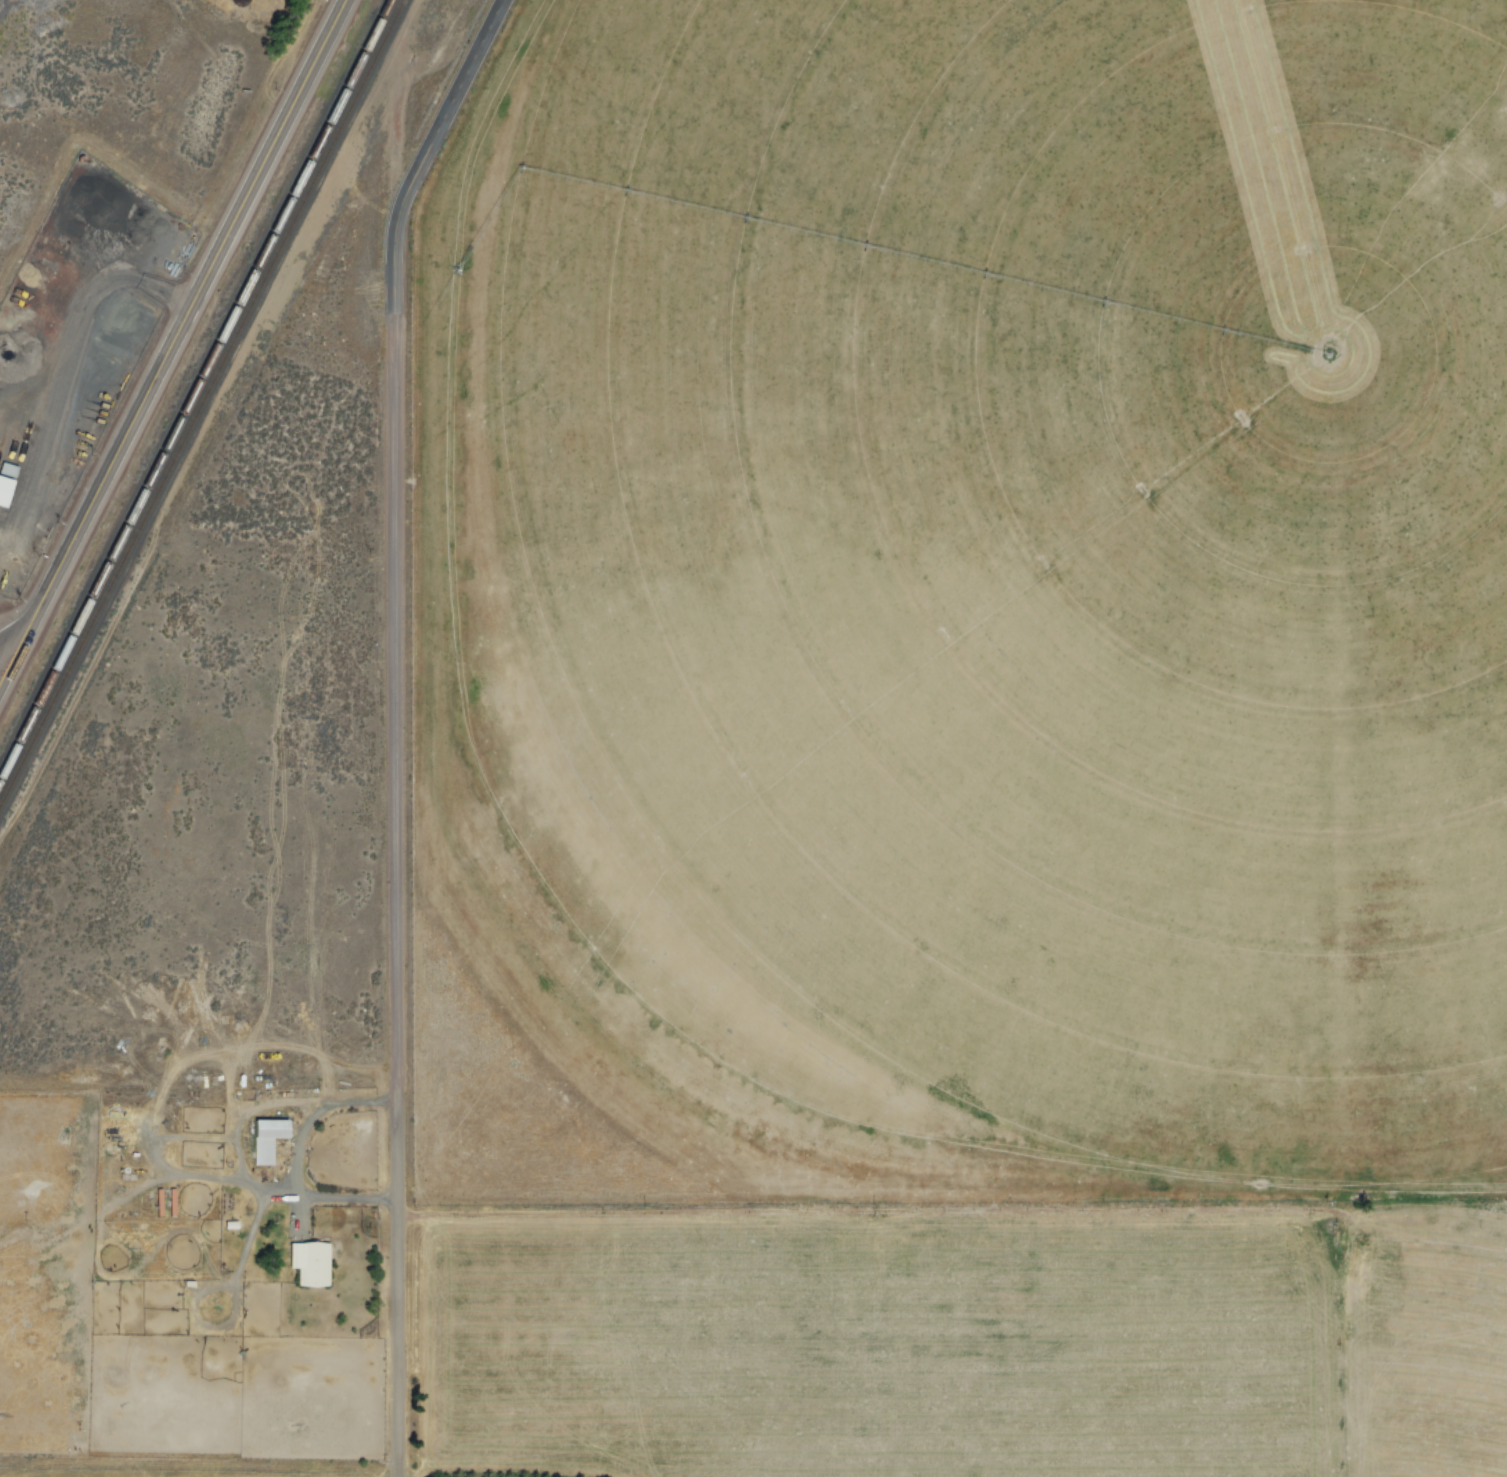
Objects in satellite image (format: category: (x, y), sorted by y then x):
road: (427, 151)
road: (200, 296)
railway: (192, 382)
railway: (197, 405)
building: (5, 491)
road: (26, 626)
road: (12, 636)
road: (26, 643)
road: (402, 893)
building: (266, 1136)
road: (306, 1162)
road: (200, 1177)
road: (147, 1195)
building: (173, 1202)
building: (312, 1263)
road: (242, 1295)

